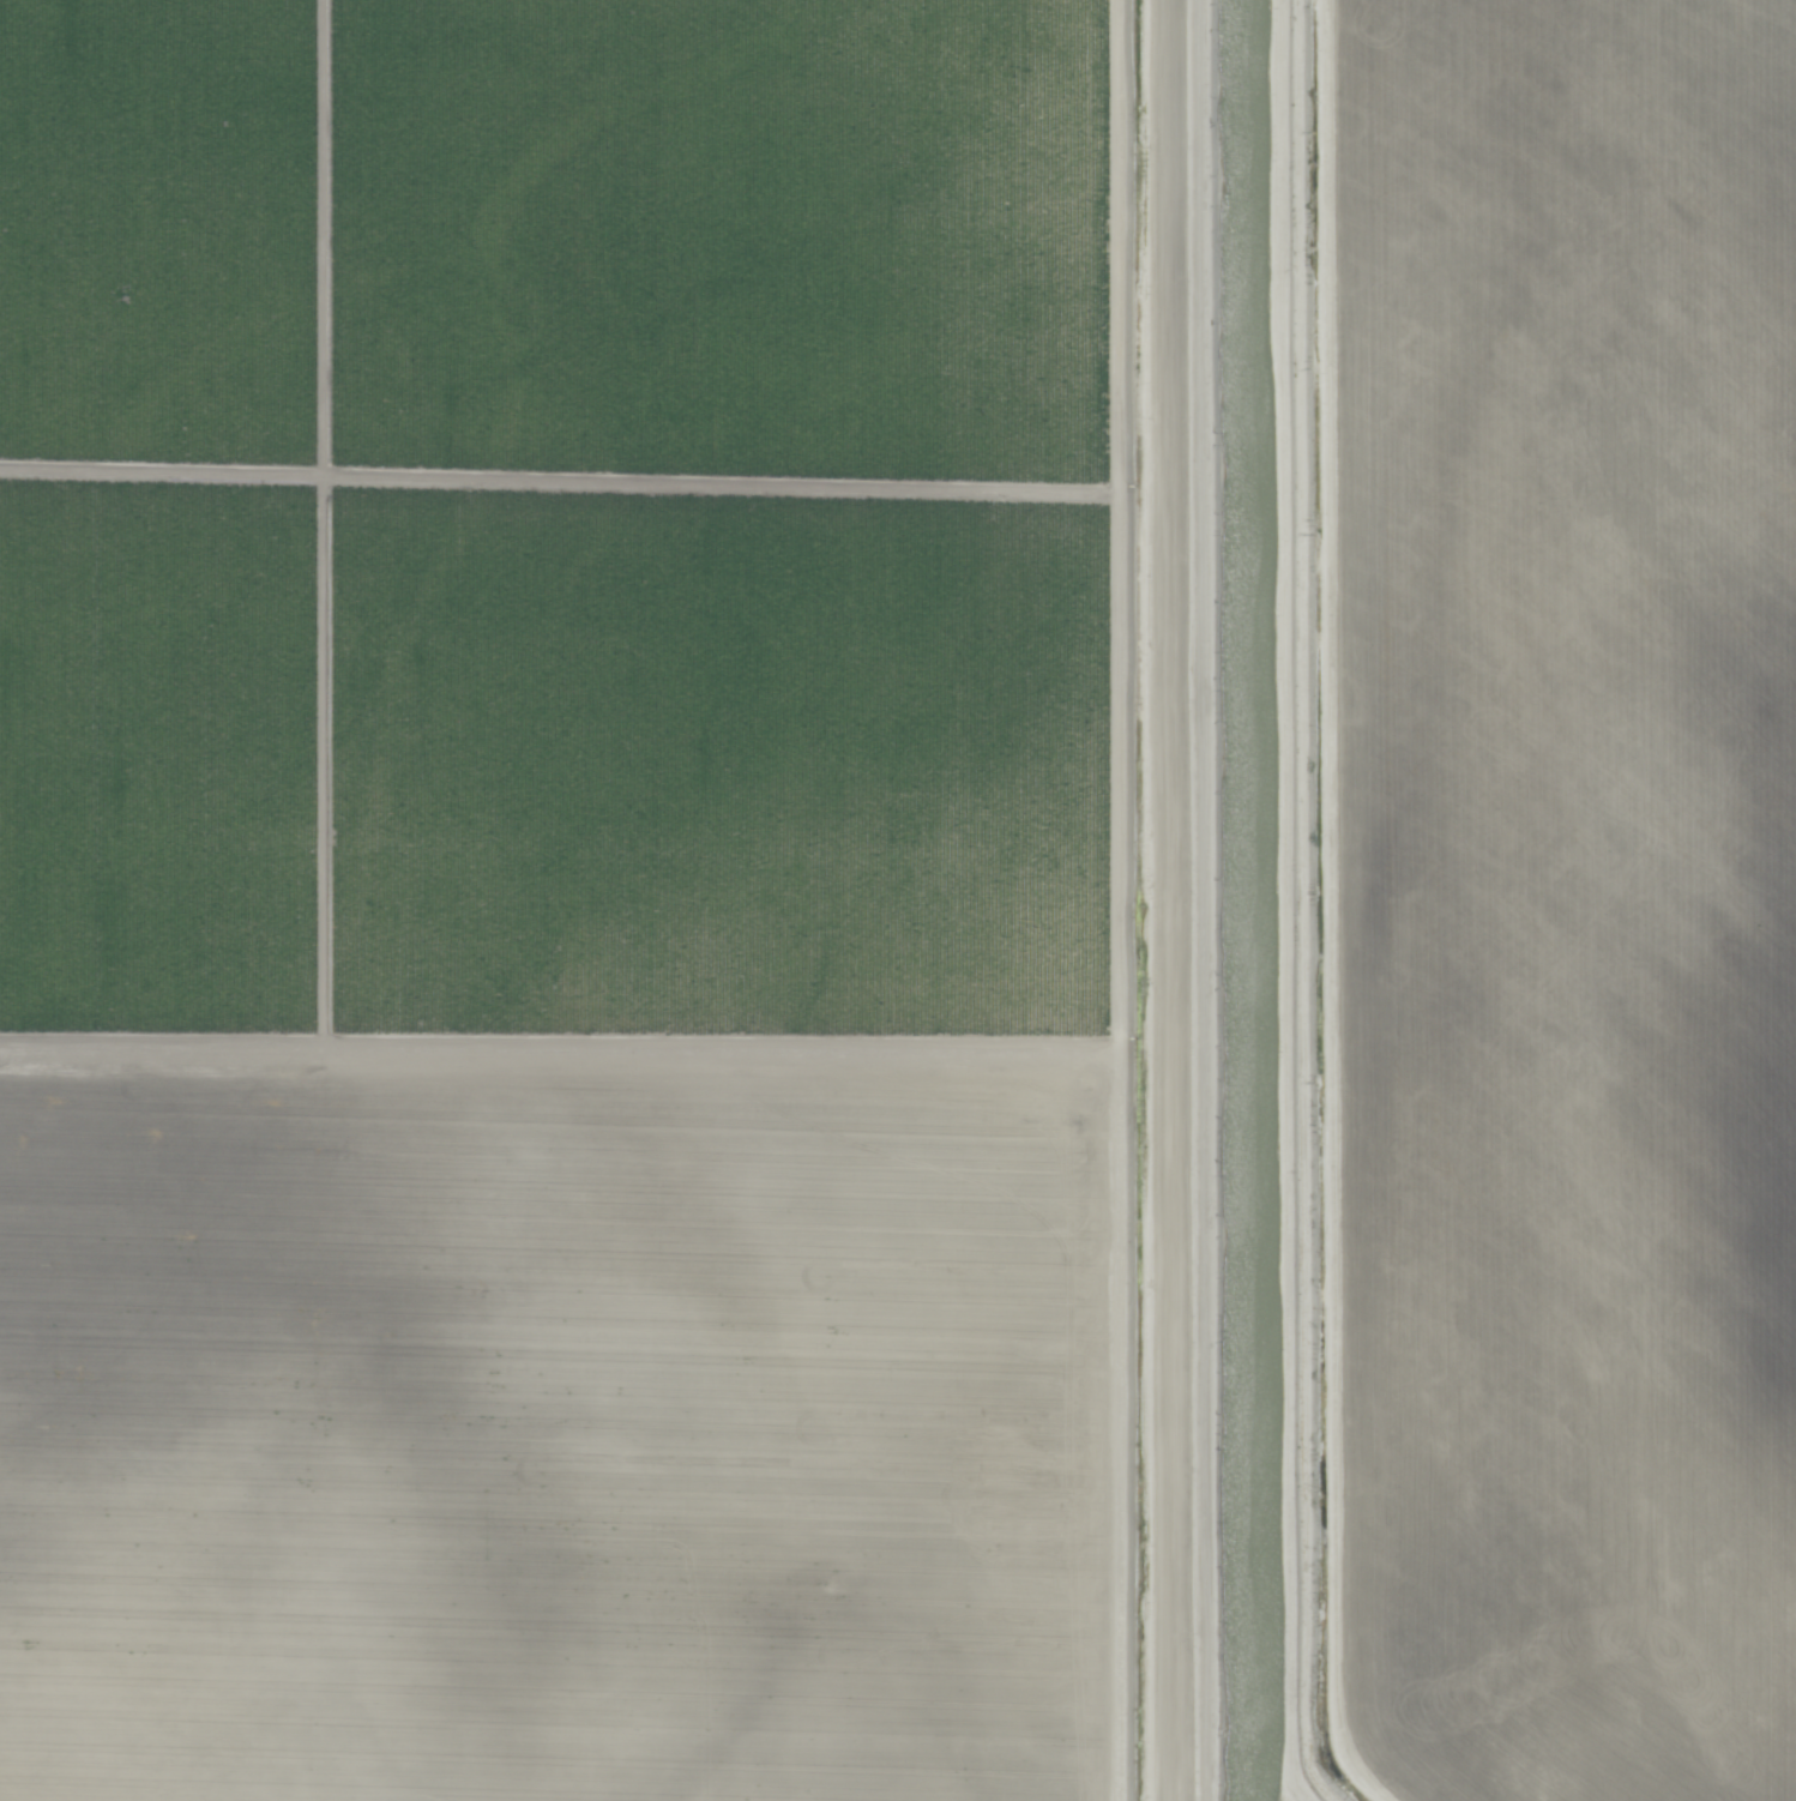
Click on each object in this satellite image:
crop: (896, 895)

